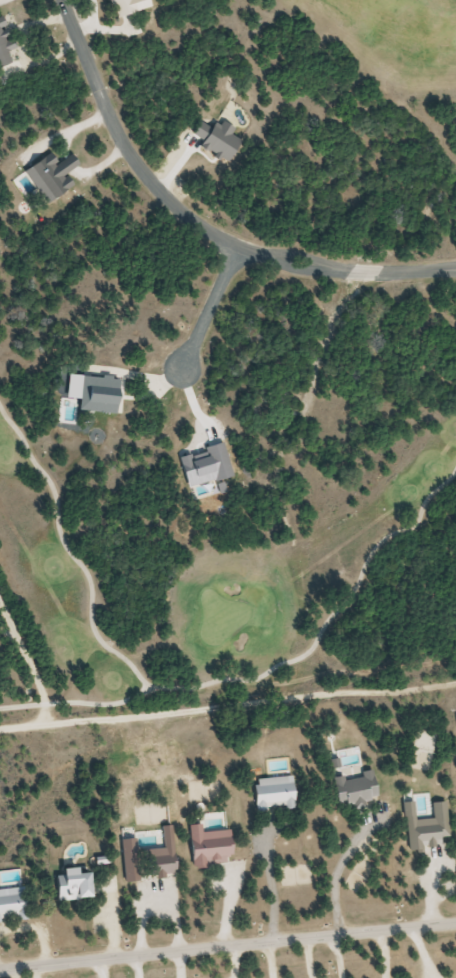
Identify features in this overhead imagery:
building: (120, 7)
road: (198, 224)
road: (207, 311)
park: (227, 344)
road: (69, 551)
road: (328, 623)
road: (76, 701)
building: (271, 795)
building: (69, 886)
building: (12, 906)
road: (227, 947)

